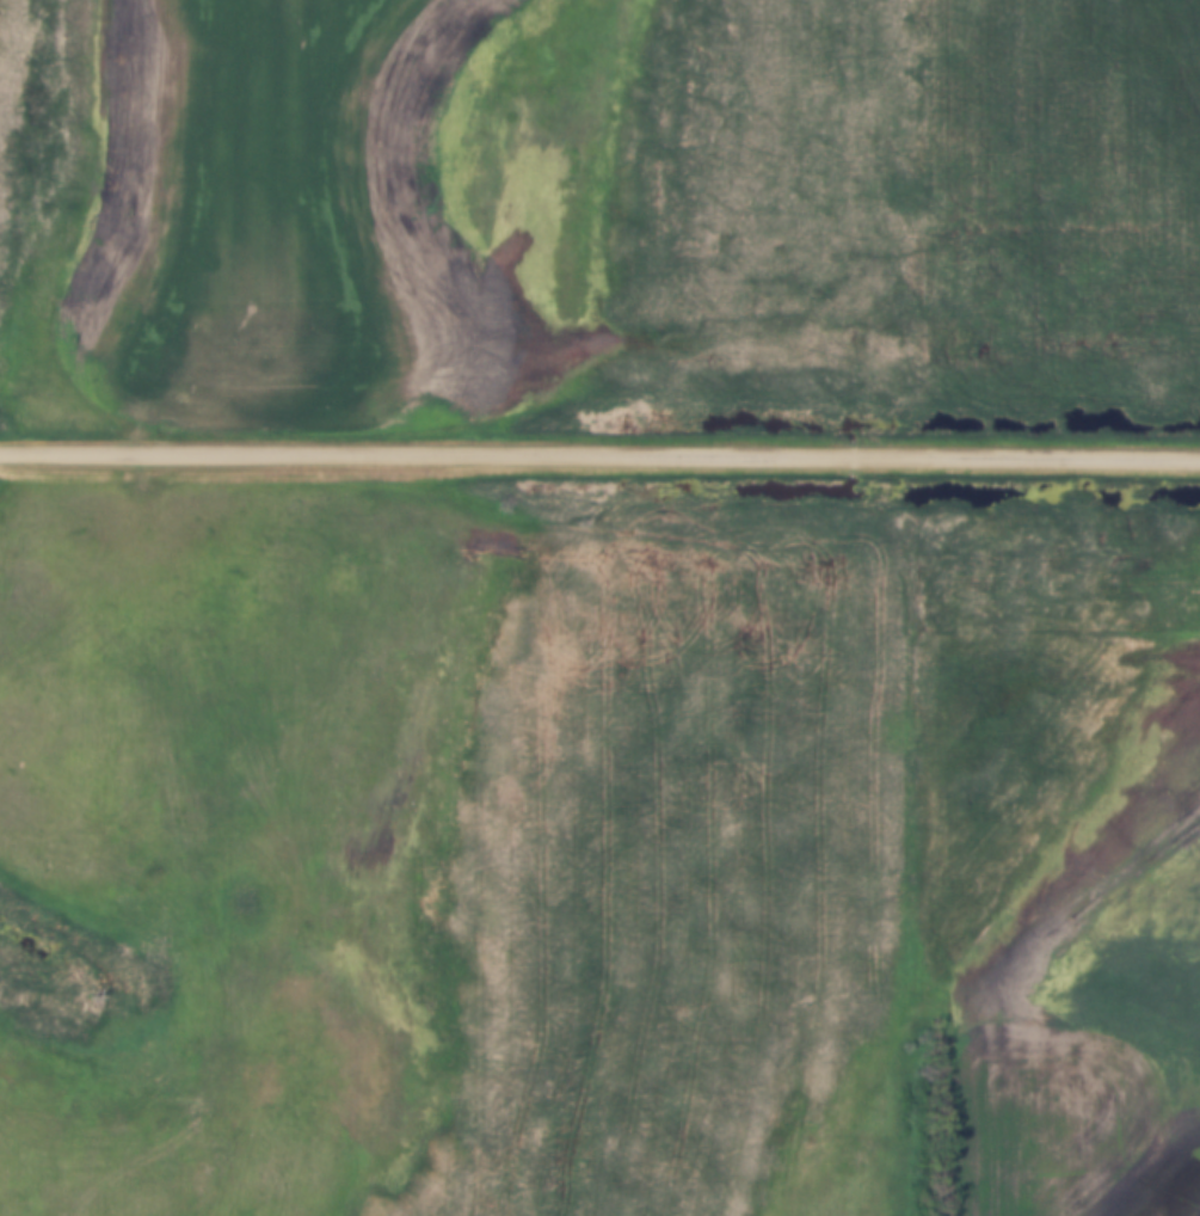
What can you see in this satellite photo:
road: (599, 454)

